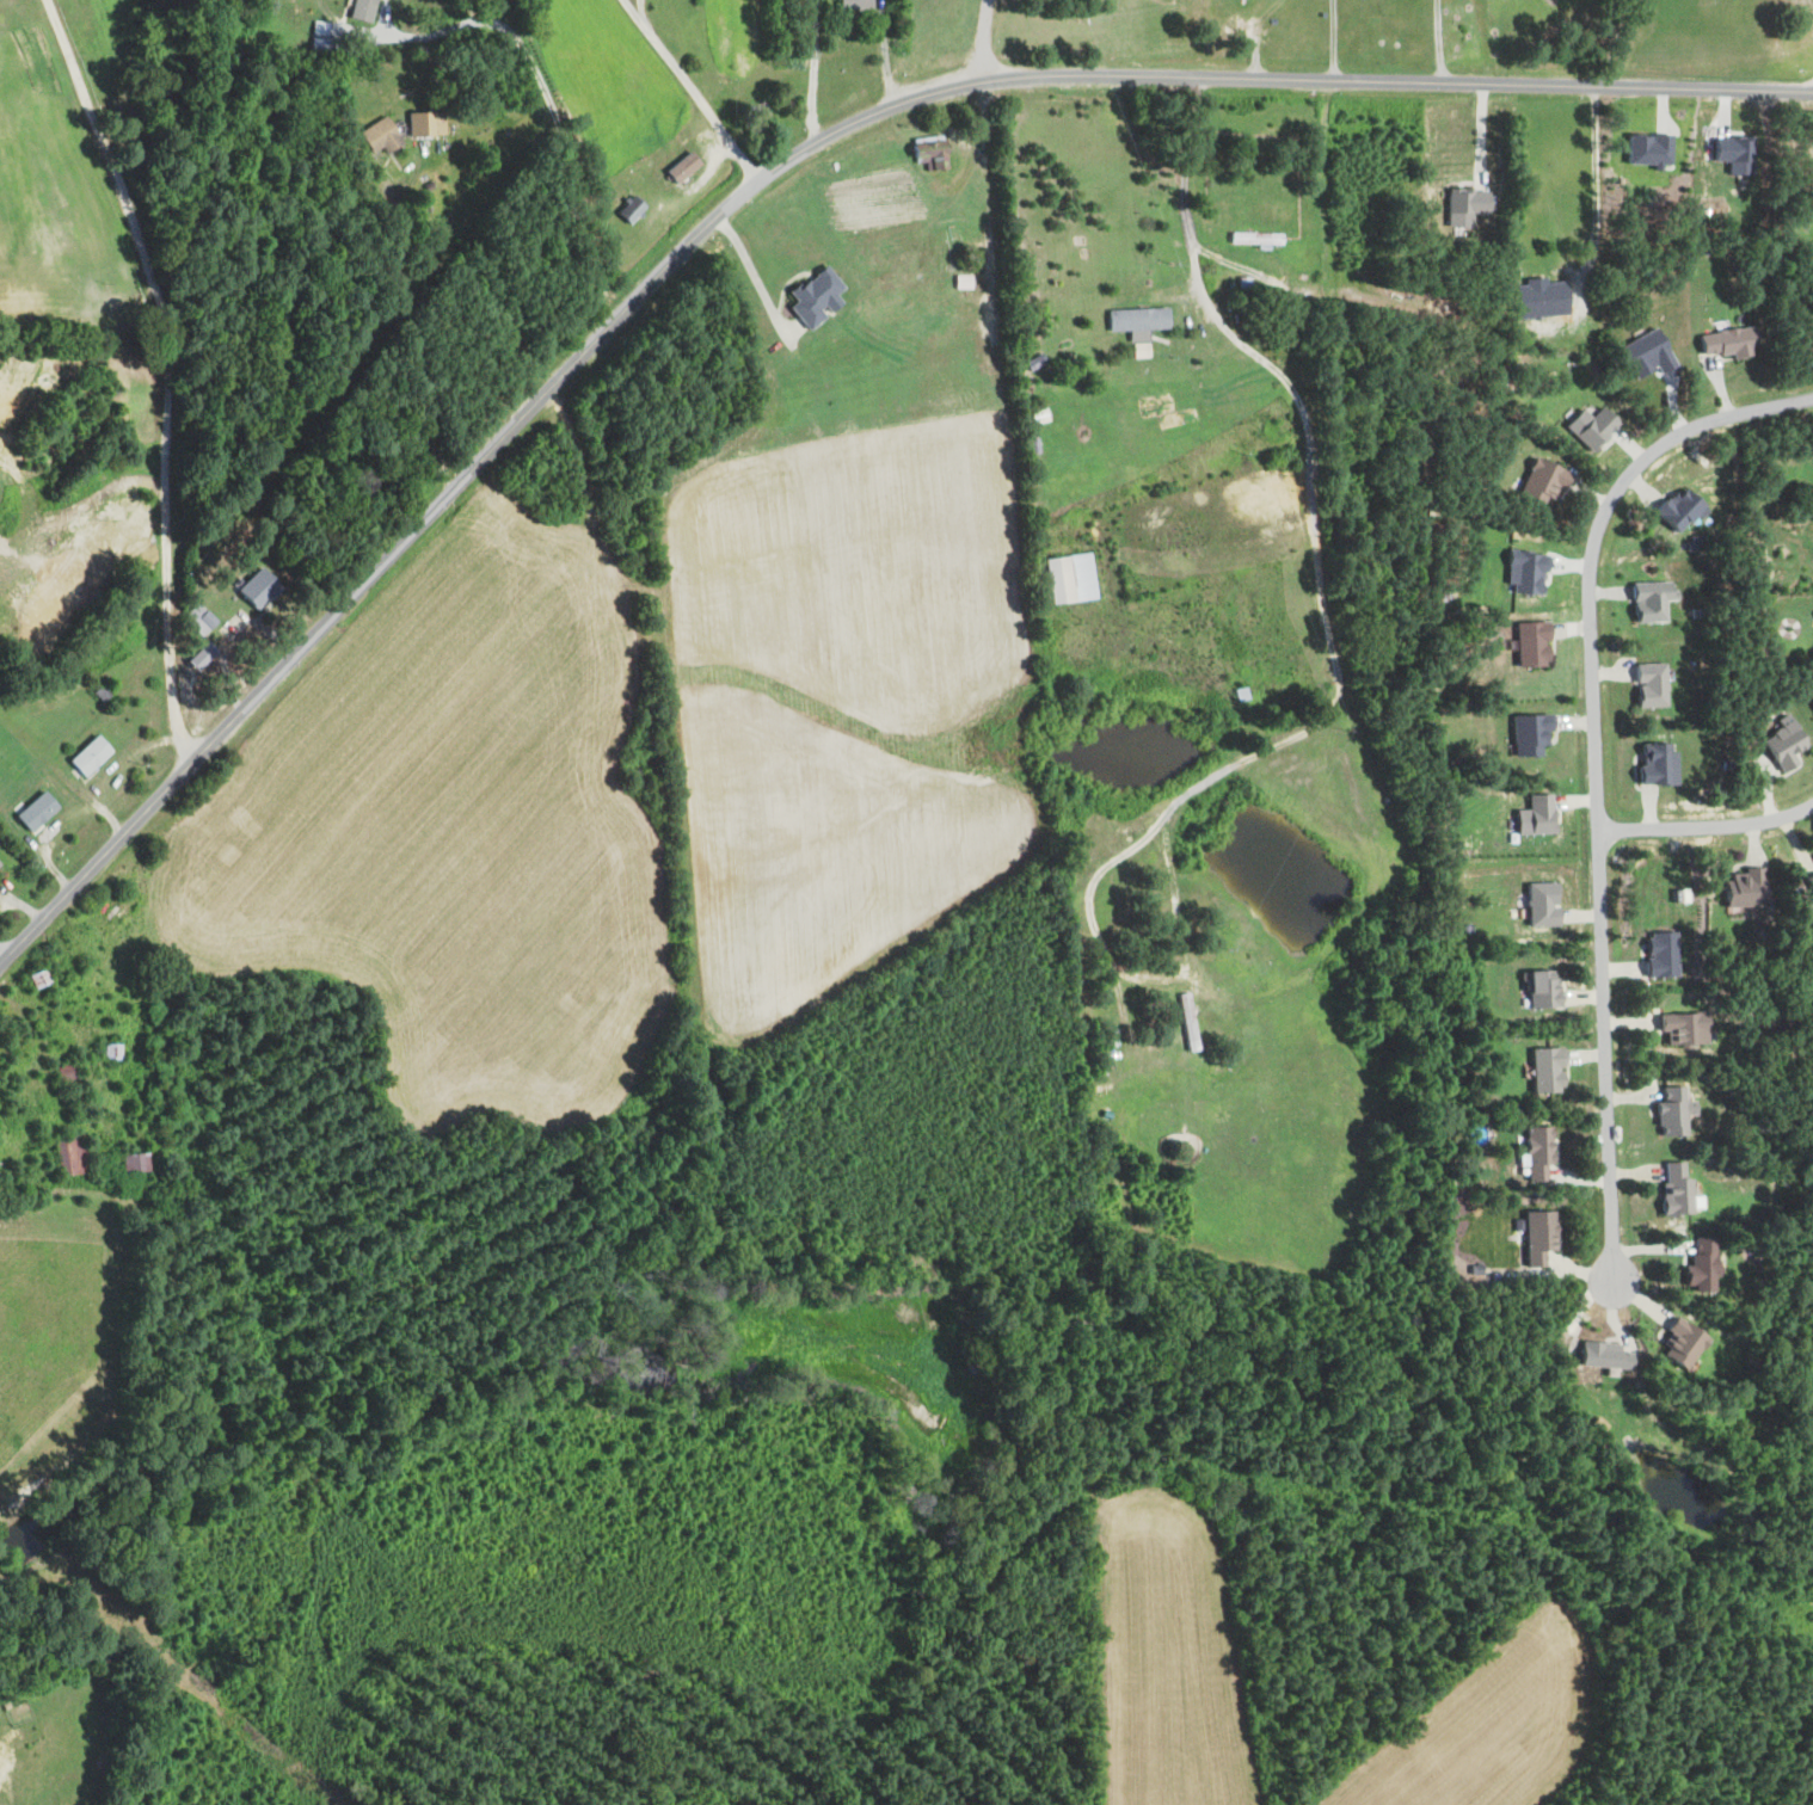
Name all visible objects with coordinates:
building: (850, 5)
building: (365, 10)
road: (983, 41)
road: (1329, 42)
road: (1436, 44)
road: (1608, 47)
road: (884, 54)
road: (801, 74)
road: (688, 91)
road: (555, 121)
building: (430, 124)
building: (381, 135)
building: (1642, 150)
building: (923, 152)
building: (1727, 154)
building: (677, 167)
road: (752, 185)
building: (1462, 207)
building: (627, 209)
road: (745, 265)
road: (1334, 294)
building: (810, 297)
building: (1536, 301)
building: (1133, 321)
building: (1717, 343)
building: (1641, 355)
road: (164, 376)
building: (1585, 427)
building: (1537, 482)
building: (1673, 511)
building: (1520, 574)
building: (1064, 579)
building: (258, 587)
building: (1646, 602)
building: (1812, 615)
building: (1525, 645)
building: (1646, 686)
road: (1317, 726)
building: (1525, 734)
building: (1777, 745)
building: (93, 754)
building: (1652, 766)
road: (1593, 775)
building: (41, 809)
building: (1531, 817)
road: (1706, 828)
building: (1, 862)
building: (1809, 874)
building: (1739, 889)
building: (1537, 905)
building: (1655, 956)
road: (1, 962)
building: (1536, 992)
building: (1678, 1027)
building: (1543, 1068)
building: (1670, 1110)
building: (1532, 1151)
building: (73, 1154)
building: (136, 1162)
building: (1670, 1188)
building: (1532, 1236)
building: (1698, 1264)
building: (1674, 1344)
building: (1598, 1355)

